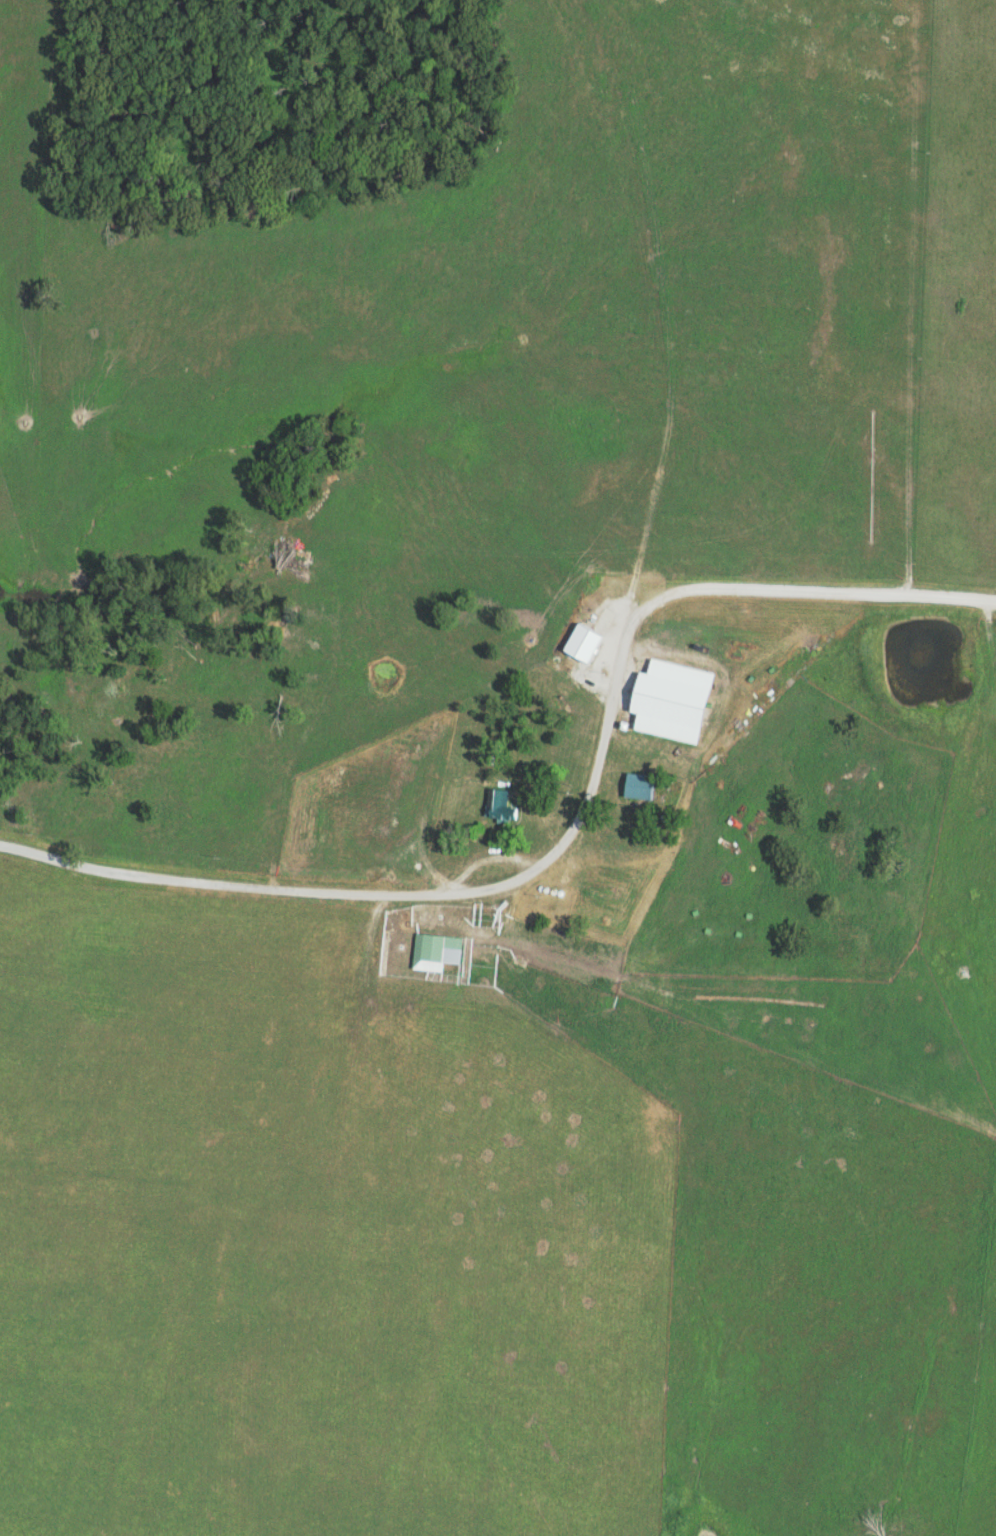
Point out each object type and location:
building: (673, 700)
building: (640, 786)
building: (500, 806)
road: (571, 831)
road: (489, 854)
building: (436, 951)

